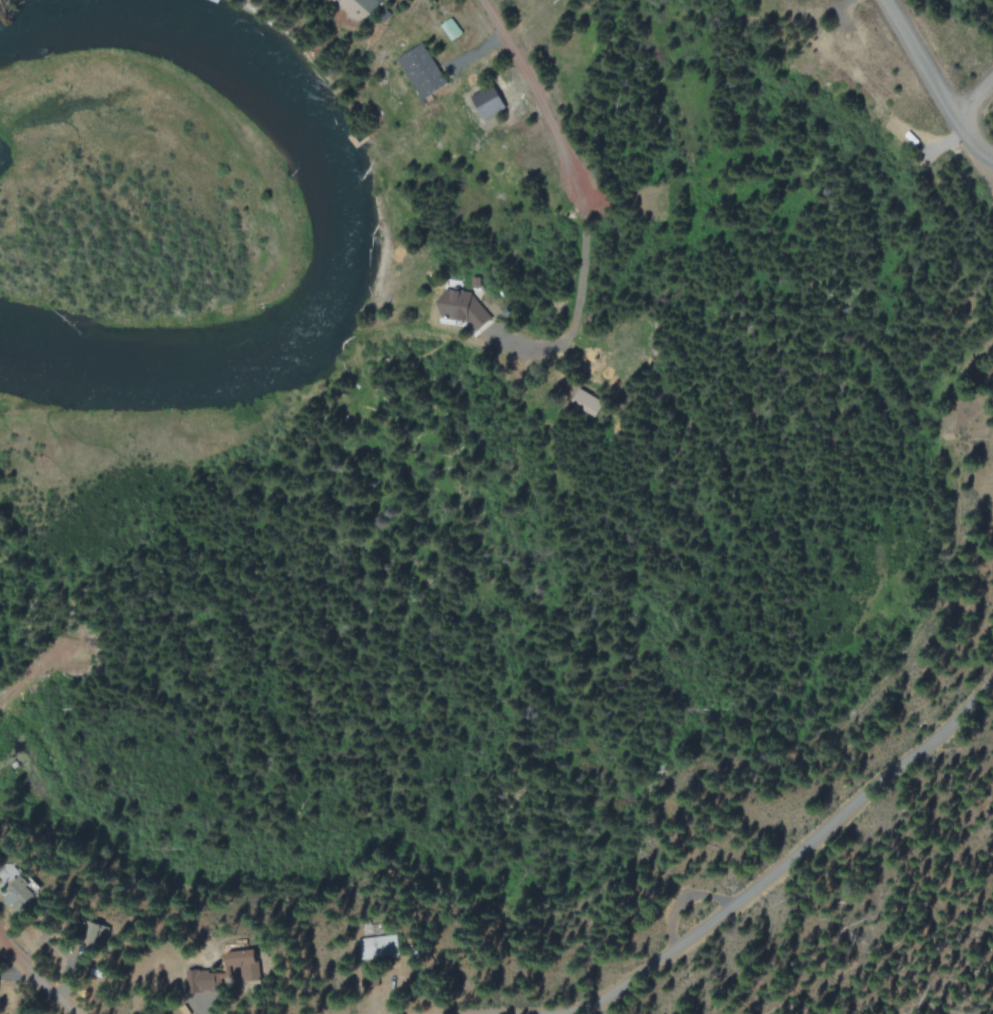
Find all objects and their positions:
building: (370, 4)
building: (451, 29)
building: (422, 70)
road: (932, 87)
road: (541, 98)
building: (489, 101)
road: (973, 113)
river: (339, 213)
building: (463, 309)
road: (31, 676)
road: (782, 864)
building: (24, 891)
building: (380, 945)
road: (36, 979)

